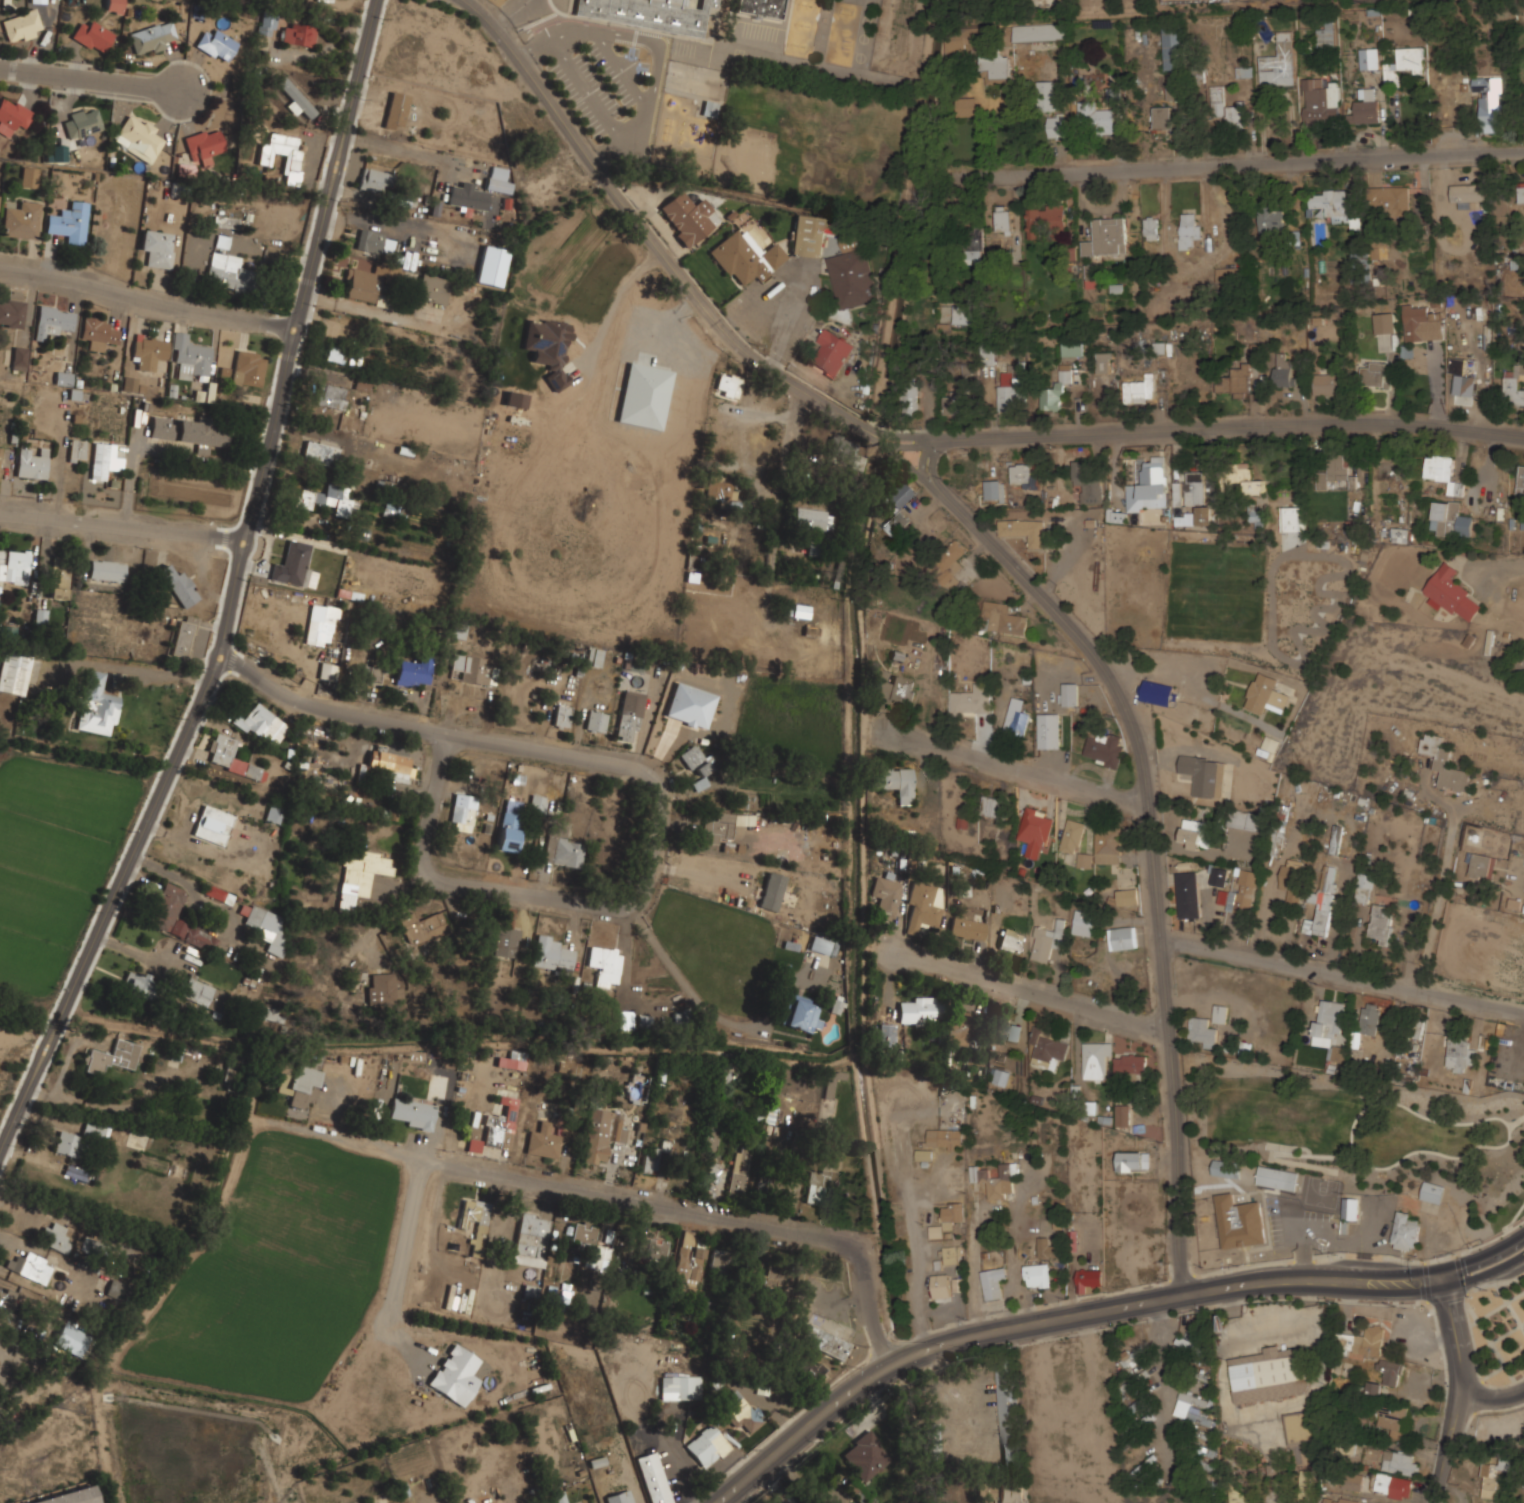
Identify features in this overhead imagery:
building: (38, 1)
building: (114, 6)
building: (760, 7)
building: (650, 13)
road: (513, 14)
building: (267, 23)
building: (22, 25)
building: (1039, 32)
building: (298, 34)
building: (1326, 34)
building: (93, 35)
building: (153, 37)
building: (217, 44)
road: (657, 47)
building: (1173, 47)
building: (1369, 58)
building: (1279, 62)
building: (1405, 63)
building: (995, 67)
road: (621, 69)
road: (90, 79)
parking lot: (601, 81)
road: (589, 92)
building: (1367, 94)
building: (1047, 95)
building: (1217, 101)
building: (1175, 103)
building: (1320, 103)
building: (1490, 103)
building: (967, 106)
building: (1364, 112)
building: (12, 115)
building: (1236, 115)
building: (1162, 118)
building: (84, 122)
building: (1053, 126)
building: (971, 136)
building: (138, 137)
park: (771, 141)
park: (810, 141)
building: (205, 144)
building: (283, 152)
building: (59, 153)
road: (1232, 165)
building: (497, 173)
building: (29, 177)
building: (375, 180)
building: (497, 185)
building: (1467, 194)
building: (1521, 194)
building: (467, 196)
building: (1390, 200)
building: (505, 203)
building: (1335, 206)
building: (465, 216)
building: (686, 216)
building: (1003, 219)
building: (22, 220)
building: (226, 220)
building: (1044, 220)
building: (1271, 220)
building: (70, 222)
building: (1151, 228)
road: (643, 230)
building: (1188, 230)
building: (1106, 237)
building: (369, 241)
building: (158, 247)
building: (976, 247)
building: (743, 257)
building: (491, 266)
building: (226, 270)
building: (1222, 274)
building: (852, 278)
building: (361, 285)
building: (433, 289)
road: (145, 307)
road: (612, 307)
building: (12, 312)
road: (789, 315)
building: (965, 315)
building: (53, 319)
building: (1384, 323)
building: (1421, 325)
building: (98, 331)
building: (548, 347)
building: (1073, 349)
building: (148, 351)
building: (831, 352)
building: (333, 354)
building: (191, 355)
building: (19, 356)
building: (1103, 362)
building: (249, 367)
road: (809, 369)
building: (1283, 370)
building: (1374, 374)
building: (63, 377)
building: (1462, 378)
building: (129, 381)
building: (1234, 382)
building: (1328, 384)
building: (1513, 385)
building: (728, 386)
building: (1012, 386)
building: (1140, 390)
building: (1055, 392)
building: (331, 396)
building: (515, 399)
building: (911, 400)
building: (954, 402)
building: (162, 426)
road: (1189, 429)
building: (202, 432)
building: (0, 449)
building: (77, 449)
building: (845, 451)
building: (320, 453)
road: (902, 458)
building: (104, 460)
building: (32, 462)
building: (1443, 473)
building: (1344, 474)
building: (1024, 476)
building: (1243, 477)
building: (1521, 480)
building: (1087, 483)
building: (1149, 486)
building: (1194, 488)
building: (719, 490)
building: (995, 490)
building: (328, 500)
building: (896, 507)
building: (388, 509)
building: (1204, 515)
building: (1117, 516)
building: (1257, 518)
building: (815, 519)
building: (1291, 519)
building: (1449, 519)
road: (783, 523)
road: (123, 527)
building: (1024, 531)
building: (1400, 535)
building: (816, 548)
building: (19, 564)
building: (949, 565)
building: (294, 566)
road: (1500, 568)
building: (1, 569)
building: (108, 569)
building: (59, 577)
building: (179, 585)
road: (233, 592)
building: (1451, 594)
building: (798, 610)
building: (40, 616)
building: (1002, 618)
building: (321, 625)
building: (11, 632)
building: (184, 637)
building: (594, 657)
road: (238, 659)
building: (471, 669)
building: (328, 672)
building: (413, 672)
road: (1158, 674)
building: (372, 675)
building: (13, 676)
building: (894, 687)
building: (1070, 693)
building: (1156, 693)
building: (1266, 695)
building: (973, 700)
building: (97, 705)
building: (695, 707)
building: (562, 716)
building: (628, 716)
building: (1017, 716)
building: (596, 722)
building: (262, 724)
building: (1049, 730)
road: (472, 736)
building: (1104, 747)
building: (1269, 747)
building: (231, 757)
road: (441, 759)
building: (695, 760)
building: (390, 764)
building: (1445, 764)
road: (1017, 768)
building: (1204, 776)
building: (895, 782)
building: (537, 802)
building: (992, 805)
building: (274, 813)
building: (462, 815)
building: (1249, 820)
building: (213, 825)
building: (723, 827)
road: (1148, 827)
building: (509, 830)
building: (1035, 832)
building: (1195, 834)
building: (1073, 836)
building: (1335, 840)
building: (1109, 844)
building: (562, 849)
building: (1085, 860)
building: (1482, 866)
road: (1523, 872)
building: (360, 875)
building: (1219, 876)
building: (1365, 880)
road: (183, 881)
road: (542, 891)
building: (772, 891)
building: (1240, 893)
building: (1187, 894)
building: (1128, 895)
building: (886, 896)
building: (773, 901)
building: (924, 903)
building: (1321, 903)
building: (167, 906)
building: (1233, 919)
building: (1084, 923)
building: (1381, 923)
building: (265, 926)
building: (422, 927)
building: (967, 928)
building: (1123, 937)
building: (1012, 940)
building: (505, 942)
building: (1043, 943)
building: (821, 944)
building: (551, 954)
building: (605, 964)
road: (1341, 975)
building: (137, 983)
building: (382, 985)
road: (1029, 992)
building: (202, 994)
building: (919, 1009)
building: (803, 1012)
building: (269, 1013)
building: (1221, 1013)
building: (1329, 1017)
building: (1366, 1023)
building: (959, 1027)
building: (1005, 1030)
building: (1417, 1030)
building: (1202, 1031)
building: (886, 1033)
building: (1049, 1048)
building: (1338, 1052)
building: (1458, 1052)
building: (112, 1057)
building: (1097, 1060)
building: (511, 1061)
building: (1130, 1064)
building: (231, 1068)
building: (728, 1074)
building: (1000, 1075)
building: (300, 1086)
building: (413, 1113)
building: (1123, 1115)
building: (501, 1124)
building: (96, 1129)
building: (602, 1133)
building: (711, 1134)
building: (946, 1137)
building: (544, 1139)
building: (67, 1144)
building: (473, 1145)
road: (376, 1149)
building: (654, 1157)
building: (1134, 1160)
building: (1227, 1167)
building: (739, 1173)
building: (993, 1178)
building: (956, 1180)
building: (821, 1186)
building: (784, 1188)
building: (1287, 1190)
building: (1432, 1191)
building: (1350, 1207)
road: (988, 1212)
building: (952, 1213)
road: (697, 1214)
building: (1239, 1220)
building: (1405, 1230)
building: (583, 1233)
building: (56, 1238)
building: (530, 1241)
building: (1047, 1248)
building: (652, 1249)
building: (952, 1254)
building: (1145, 1256)
building: (597, 1258)
building: (687, 1261)
building: (718, 1261)
road: (399, 1263)
building: (30, 1267)
building: (1038, 1275)
building: (1089, 1278)
building: (993, 1281)
building: (771, 1282)
building: (958, 1284)
building: (941, 1285)
building: (116, 1289)
building: (529, 1290)
building: (6, 1309)
road: (1097, 1311)
park: (1497, 1329)
building: (1188, 1331)
building: (1372, 1341)
building: (825, 1342)
building: (1133, 1362)
building: (811, 1369)
road: (25, 1370)
building: (1389, 1371)
building: (456, 1375)
building: (1268, 1376)
road: (1167, 1378)
building: (680, 1387)
building: (1374, 1389)
road: (1461, 1391)
road: (1492, 1395)
building: (1137, 1405)
building: (1195, 1409)
building: (741, 1412)
building: (1008, 1414)
building: (1393, 1419)
parking lot: (1074, 1421)
building: (1297, 1427)
building: (932, 1442)
building: (707, 1446)
building: (1207, 1449)
building: (865, 1456)
building: (1398, 1464)
building: (1208, 1469)
building: (1494, 1476)
building: (652, 1478)
building: (1352, 1482)
building: (1393, 1485)
building: (985, 1491)
building: (1011, 1492)
building: (1240, 1496)
building: (72, 1497)
building: (560, 1497)
building: (620, 1497)
building: (1341, 1501)

